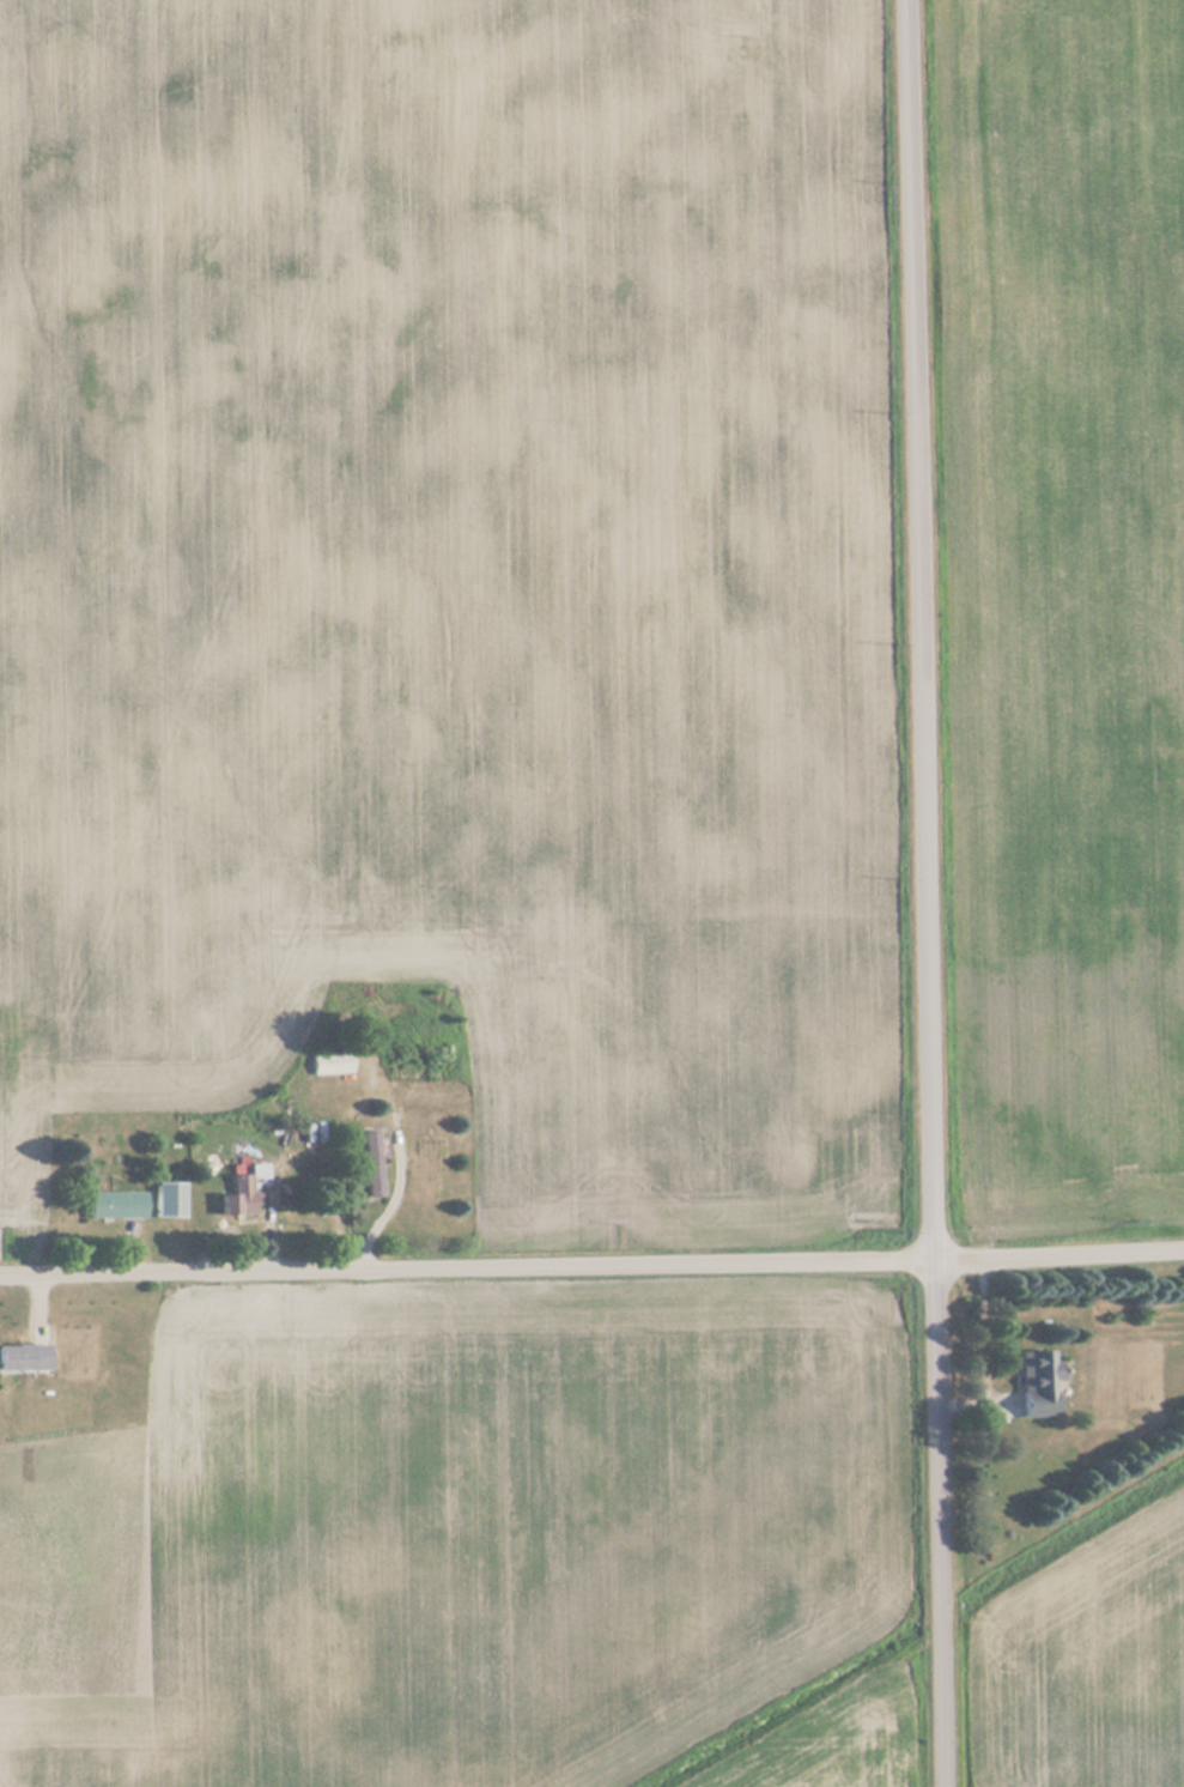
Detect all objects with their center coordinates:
road: (927, 893)
building: (332, 1062)
building: (372, 1163)
building: (243, 1188)
building: (168, 1199)
building: (114, 1204)
road: (591, 1268)
building: (23, 1357)
building: (1037, 1383)

